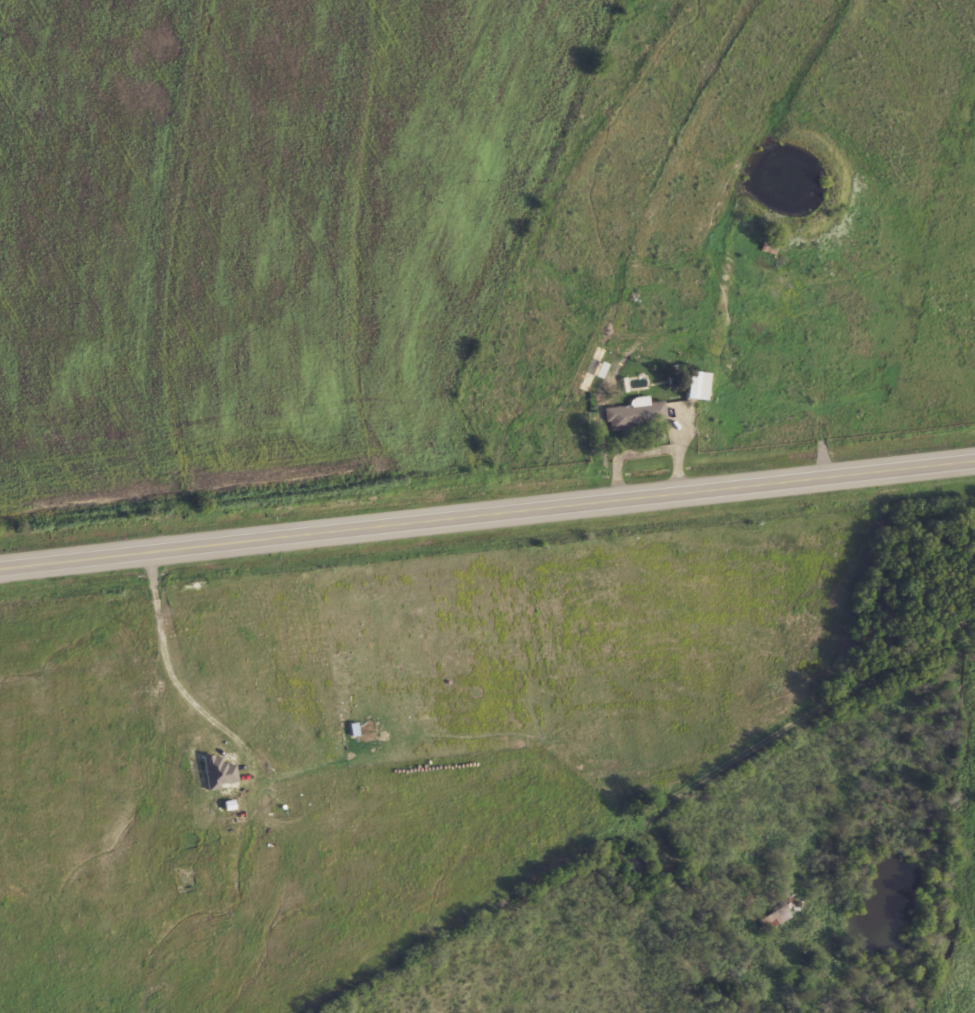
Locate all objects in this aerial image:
building: (597, 368)
building: (701, 385)
road: (487, 519)
road: (825, 721)
building: (220, 772)
building: (778, 917)

